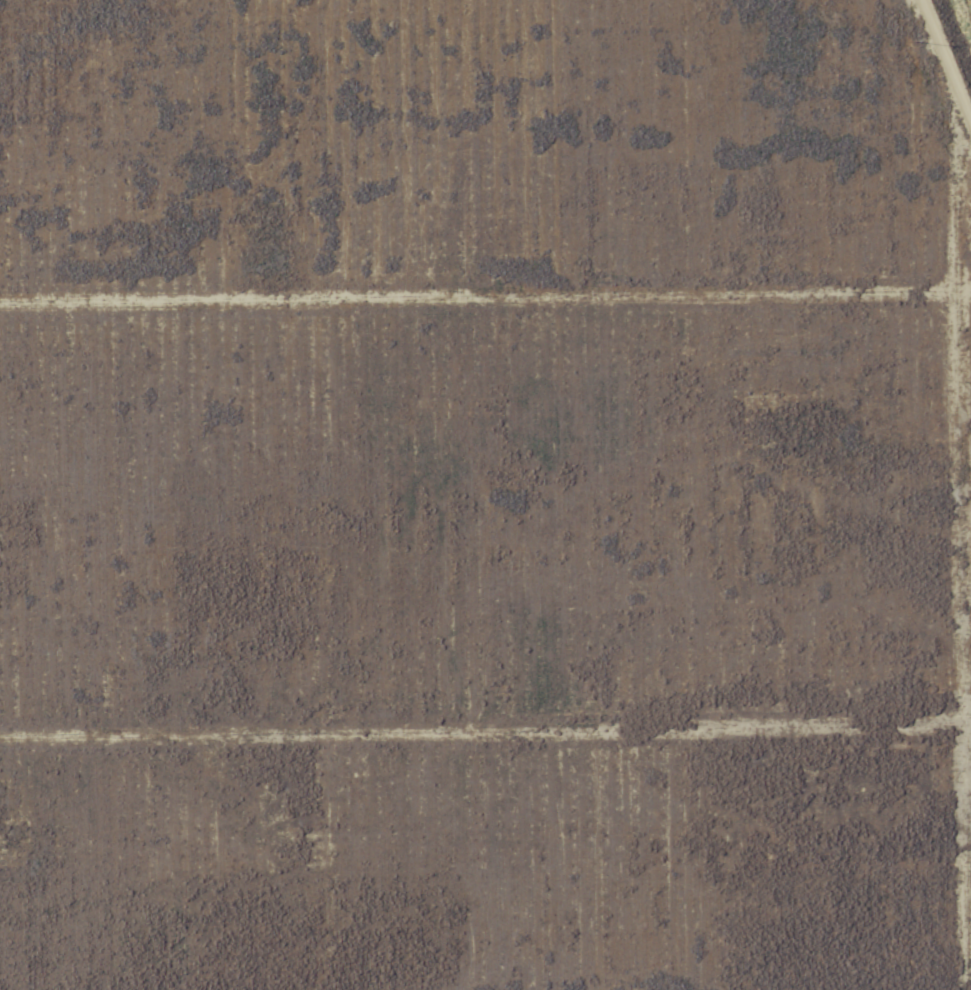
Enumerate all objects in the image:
road: (496, 853)

